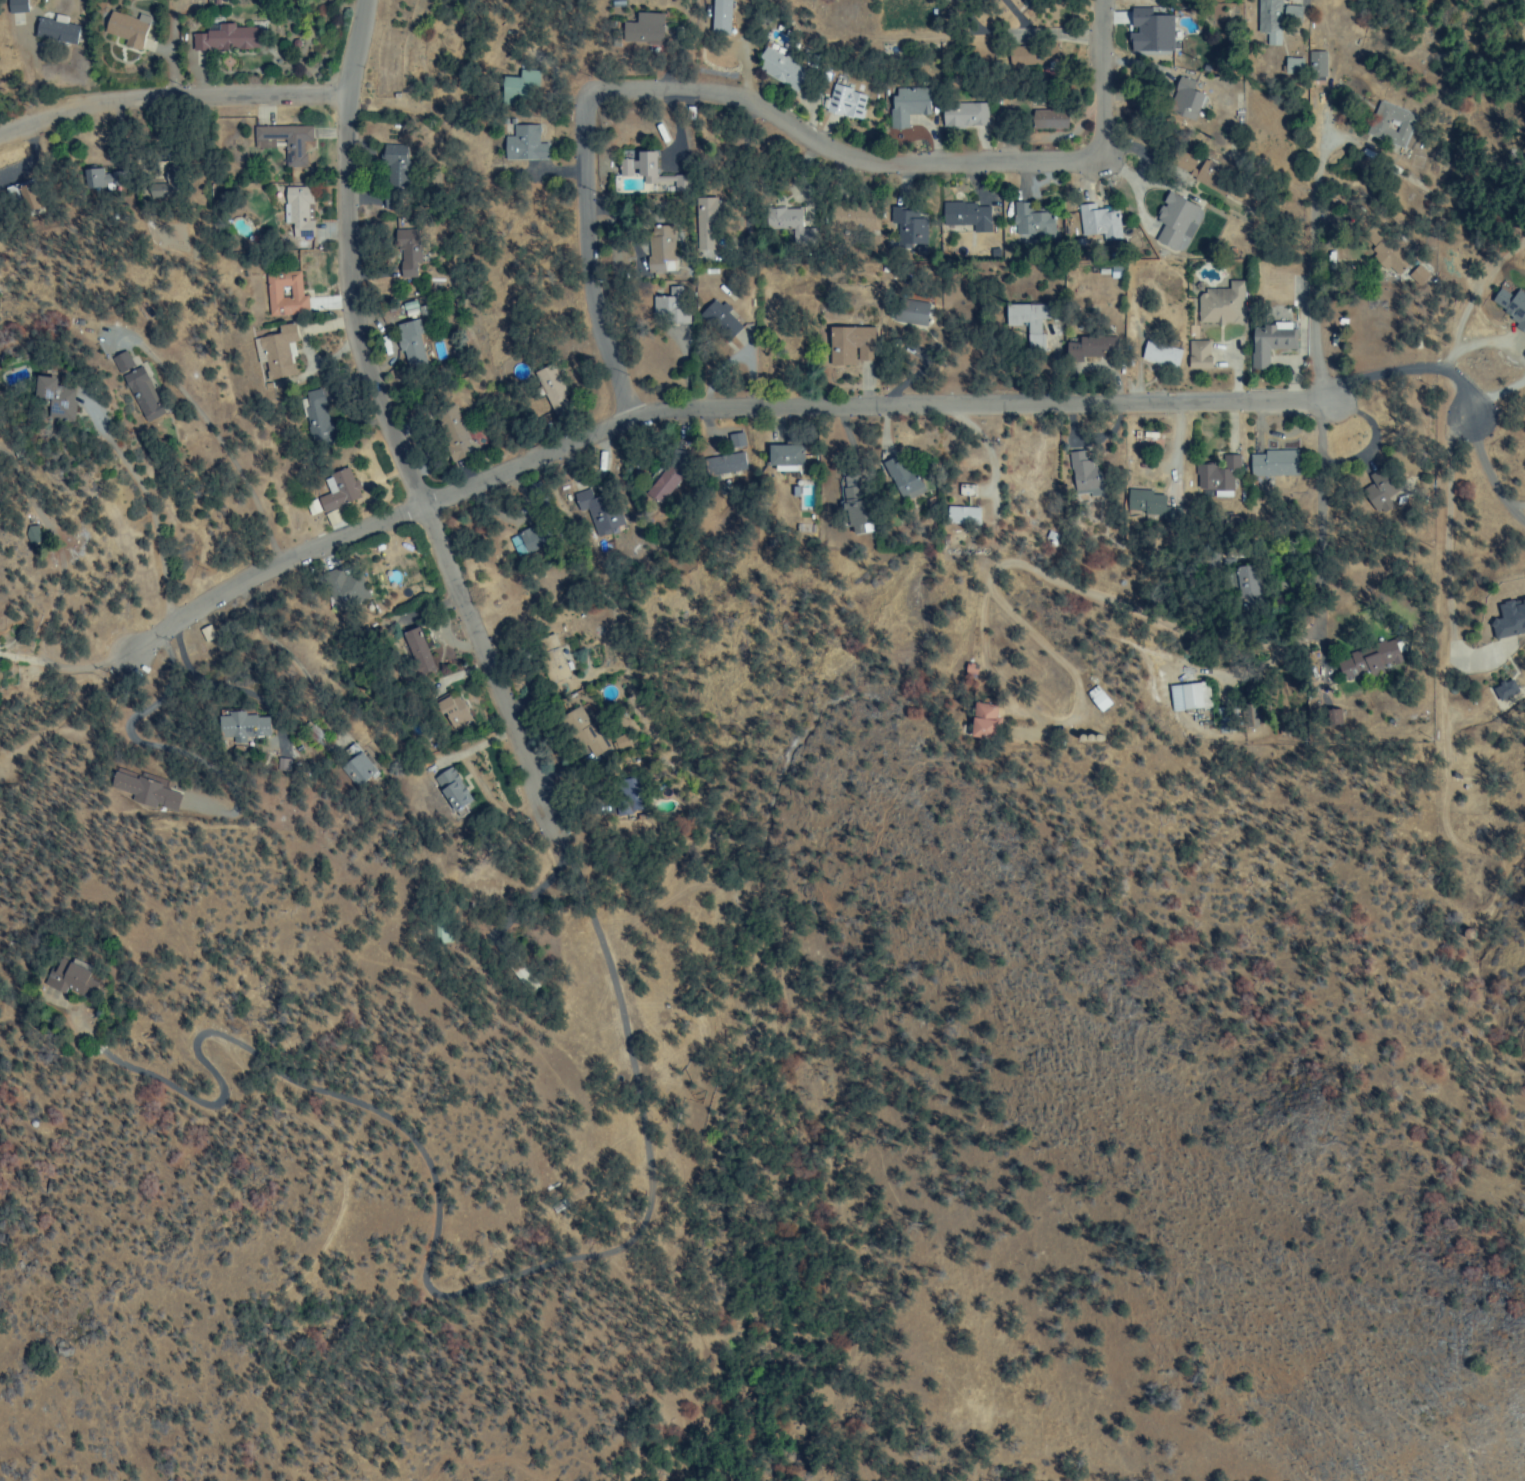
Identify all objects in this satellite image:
building: (215, 1)
building: (949, 3)
building: (992, 4)
building: (1273, 21)
building: (125, 27)
building: (640, 29)
building: (54, 34)
building: (1152, 35)
building: (225, 38)
building: (1032, 53)
building: (782, 69)
building: (1287, 69)
building: (518, 92)
road: (171, 98)
building: (1183, 98)
building: (847, 102)
building: (907, 103)
building: (963, 114)
building: (1030, 120)
building: (1376, 126)
building: (283, 141)
building: (524, 145)
building: (393, 164)
road: (902, 164)
building: (648, 174)
building: (96, 179)
building: (26, 200)
building: (297, 210)
building: (963, 214)
building: (789, 216)
building: (1029, 220)
building: (905, 221)
building: (1175, 221)
building: (1097, 222)
building: (704, 223)
building: (856, 223)
building: (649, 248)
building: (993, 254)
building: (1389, 254)
building: (969, 255)
building: (407, 261)
road: (587, 267)
building: (1417, 275)
building: (272, 292)
building: (406, 306)
building: (1220, 306)
building: (667, 308)
building: (908, 312)
building: (719, 321)
building: (1031, 322)
building: (405, 330)
building: (1268, 343)
building: (848, 345)
building: (1088, 347)
building: (273, 350)
building: (411, 354)
building: (1197, 355)
building: (137, 386)
building: (550, 390)
building: (52, 400)
building: (313, 414)
road: (726, 414)
road: (400, 422)
building: (461, 428)
building: (784, 456)
building: (730, 461)
building: (1273, 465)
building: (1080, 473)
building: (1027, 474)
building: (1212, 474)
road: (1484, 479)
building: (901, 480)
building: (663, 484)
building: (339, 492)
building: (793, 492)
building: (1379, 492)
building: (850, 502)
building: (1150, 508)
road: (144, 509)
building: (592, 515)
building: (961, 515)
building: (865, 529)
road: (1235, 529)
building: (533, 539)
road: (1438, 549)
building: (1247, 580)
building: (349, 594)
building: (1508, 622)
building: (209, 636)
building: (412, 651)
building: (550, 659)
building: (1367, 663)
building: (970, 670)
building: (1503, 691)
building: (1190, 696)
building: (1096, 699)
building: (452, 715)
building: (983, 722)
building: (239, 727)
building: (307, 732)
building: (622, 737)
building: (358, 768)
building: (282, 770)
building: (142, 791)
building: (451, 791)
road: (574, 876)
road: (529, 891)
building: (70, 977)
road: (417, 1242)

